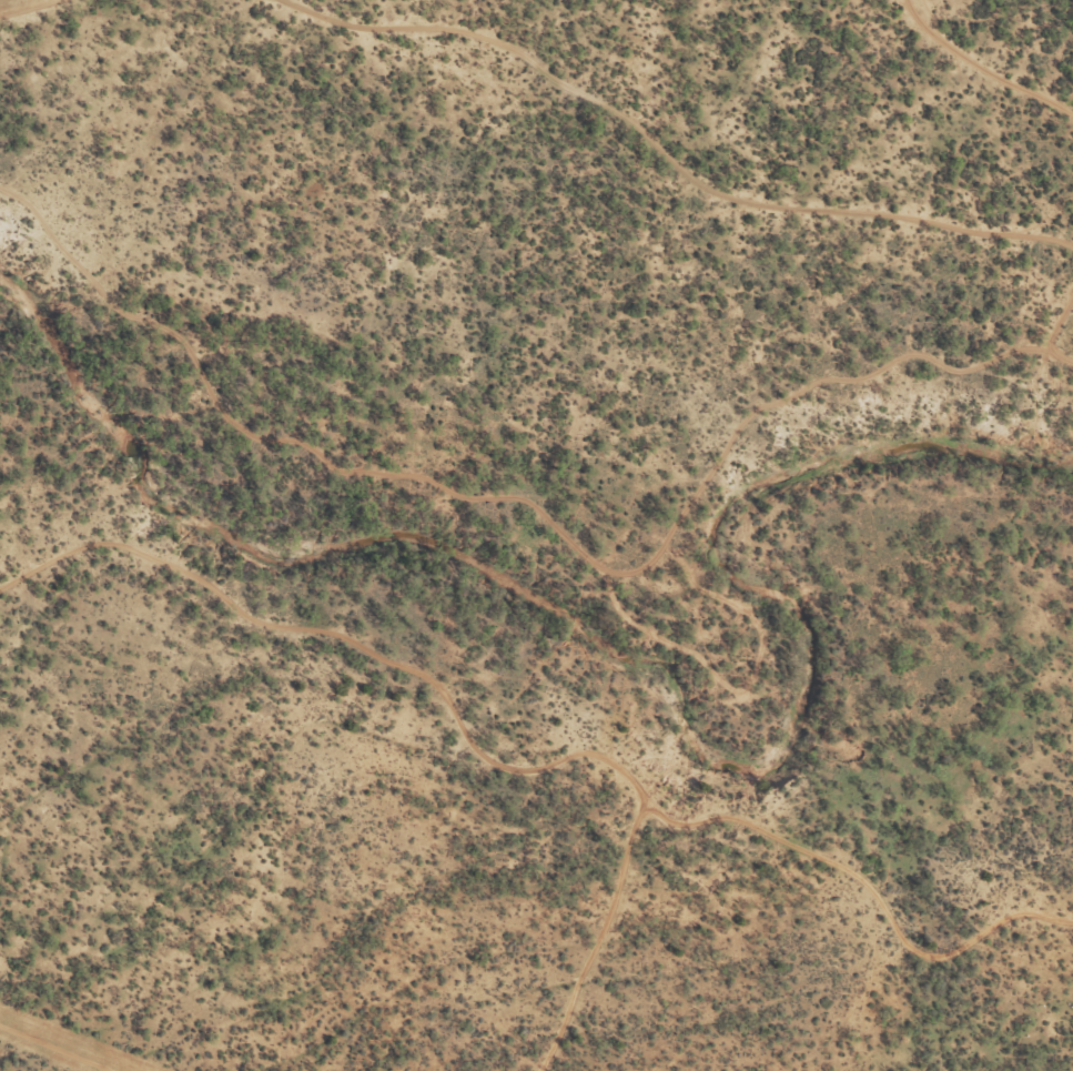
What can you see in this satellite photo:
road: (660, 156)

